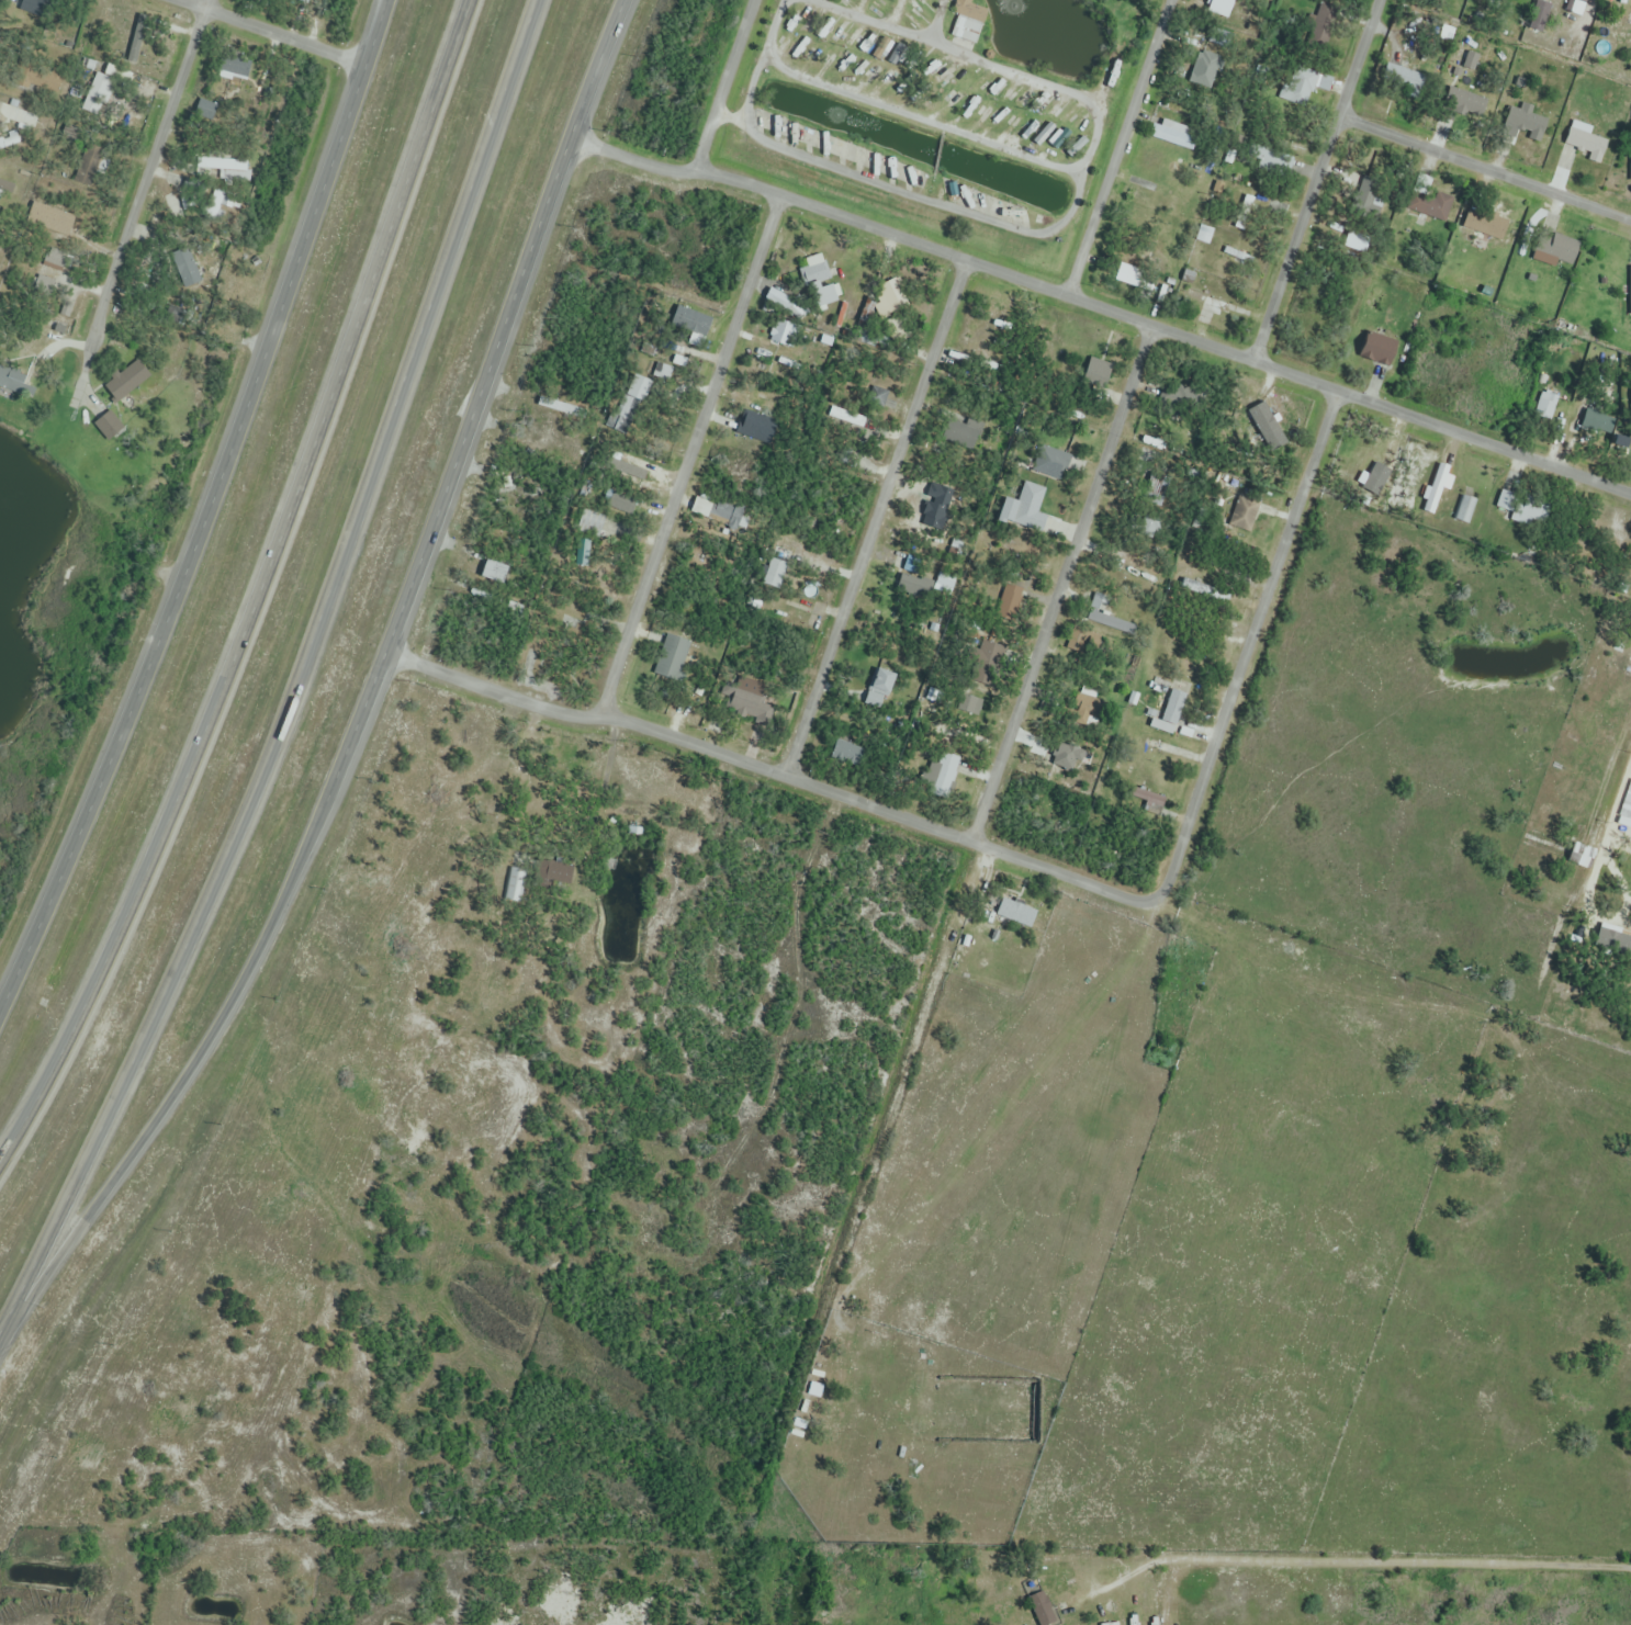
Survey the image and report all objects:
building: (1506, 1)
building: (301, 2)
building: (1575, 7)
building: (1540, 16)
building: (968, 21)
road: (269, 32)
building: (234, 65)
building: (1398, 75)
building: (42, 81)
road: (721, 84)
building: (106, 91)
building: (1465, 102)
building: (1526, 122)
building: (1174, 133)
building: (1586, 144)
road: (1116, 148)
building: (88, 166)
road: (1484, 167)
building: (227, 169)
road: (1314, 181)
building: (2, 187)
building: (1369, 200)
road: (142, 201)
building: (215, 203)
building: (1428, 203)
building: (50, 219)
building: (1485, 225)
building: (1204, 235)
building: (1357, 240)
building: (1556, 247)
building: (1138, 252)
building: (1238, 257)
building: (53, 260)
building: (185, 268)
building: (817, 273)
building: (1135, 280)
building: (235, 289)
building: (1630, 290)
building: (45, 291)
building: (889, 298)
building: (1206, 300)
building: (778, 303)
road: (1101, 309)
building: (690, 324)
building: (785, 335)
building: (1377, 349)
building: (983, 353)
building: (1098, 372)
building: (663, 375)
building: (10, 381)
building: (126, 381)
building: (877, 396)
building: (1178, 396)
building: (1545, 406)
building: (558, 407)
building: (847, 416)
building: (1594, 419)
building: (108, 425)
building: (757, 428)
building: (1264, 433)
building: (559, 445)
road: (686, 453)
building: (1049, 462)
building: (1436, 488)
building: (1523, 505)
building: (1466, 510)
road: (206, 511)
building: (1023, 511)
building: (721, 514)
building: (1245, 514)
road: (871, 520)
building: (592, 521)
building: (1148, 523)
building: (494, 572)
building: (910, 580)
road: (1059, 586)
building: (1011, 595)
road: (262, 596)
building: (787, 611)
building: (1105, 617)
road: (1245, 647)
building: (671, 658)
building: (1620, 658)
building: (977, 659)
road: (304, 679)
building: (881, 682)
road: (368, 700)
building: (749, 700)
building: (964, 711)
building: (1078, 711)
building: (1170, 713)
building: (845, 754)
building: (942, 771)
road: (768, 774)
building: (1628, 798)
building: (1148, 801)
building: (1581, 856)
building: (553, 872)
building: (516, 884)
building: (1016, 913)
building: (644, 1210)
building: (1042, 1609)

